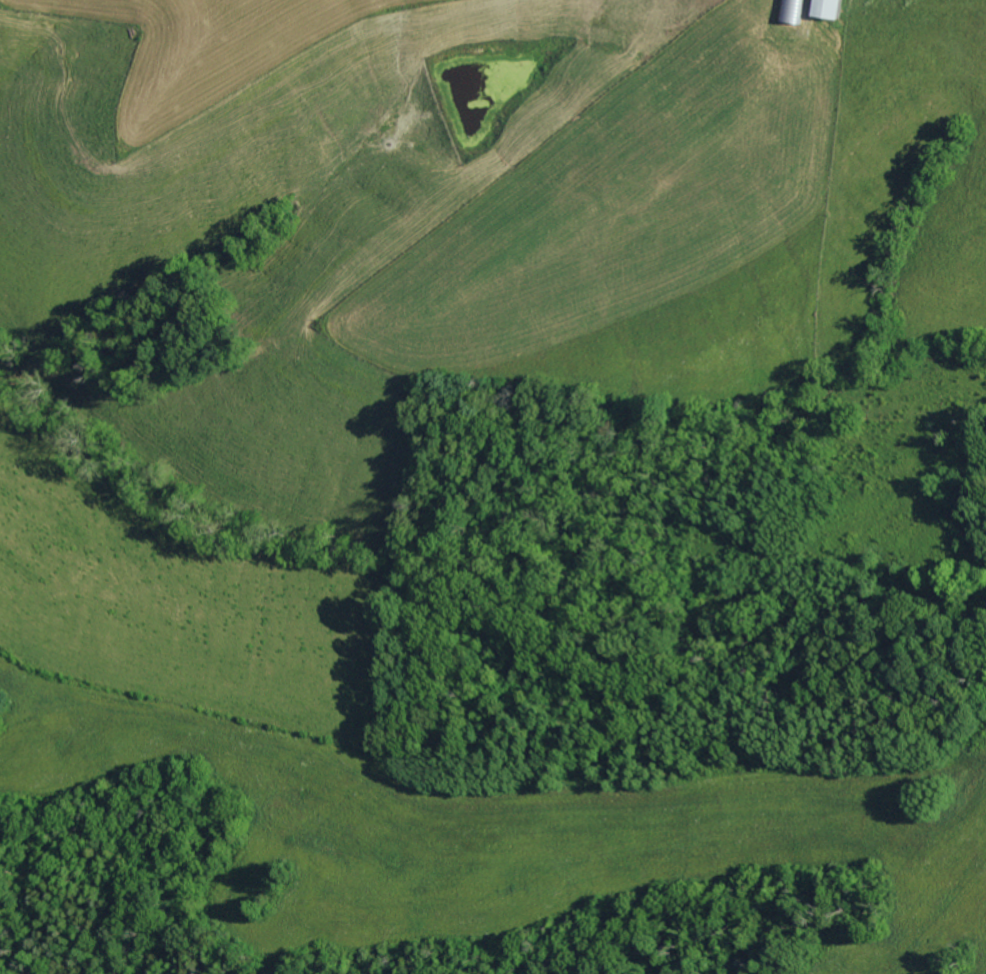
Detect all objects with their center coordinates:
building: (837, 8)

